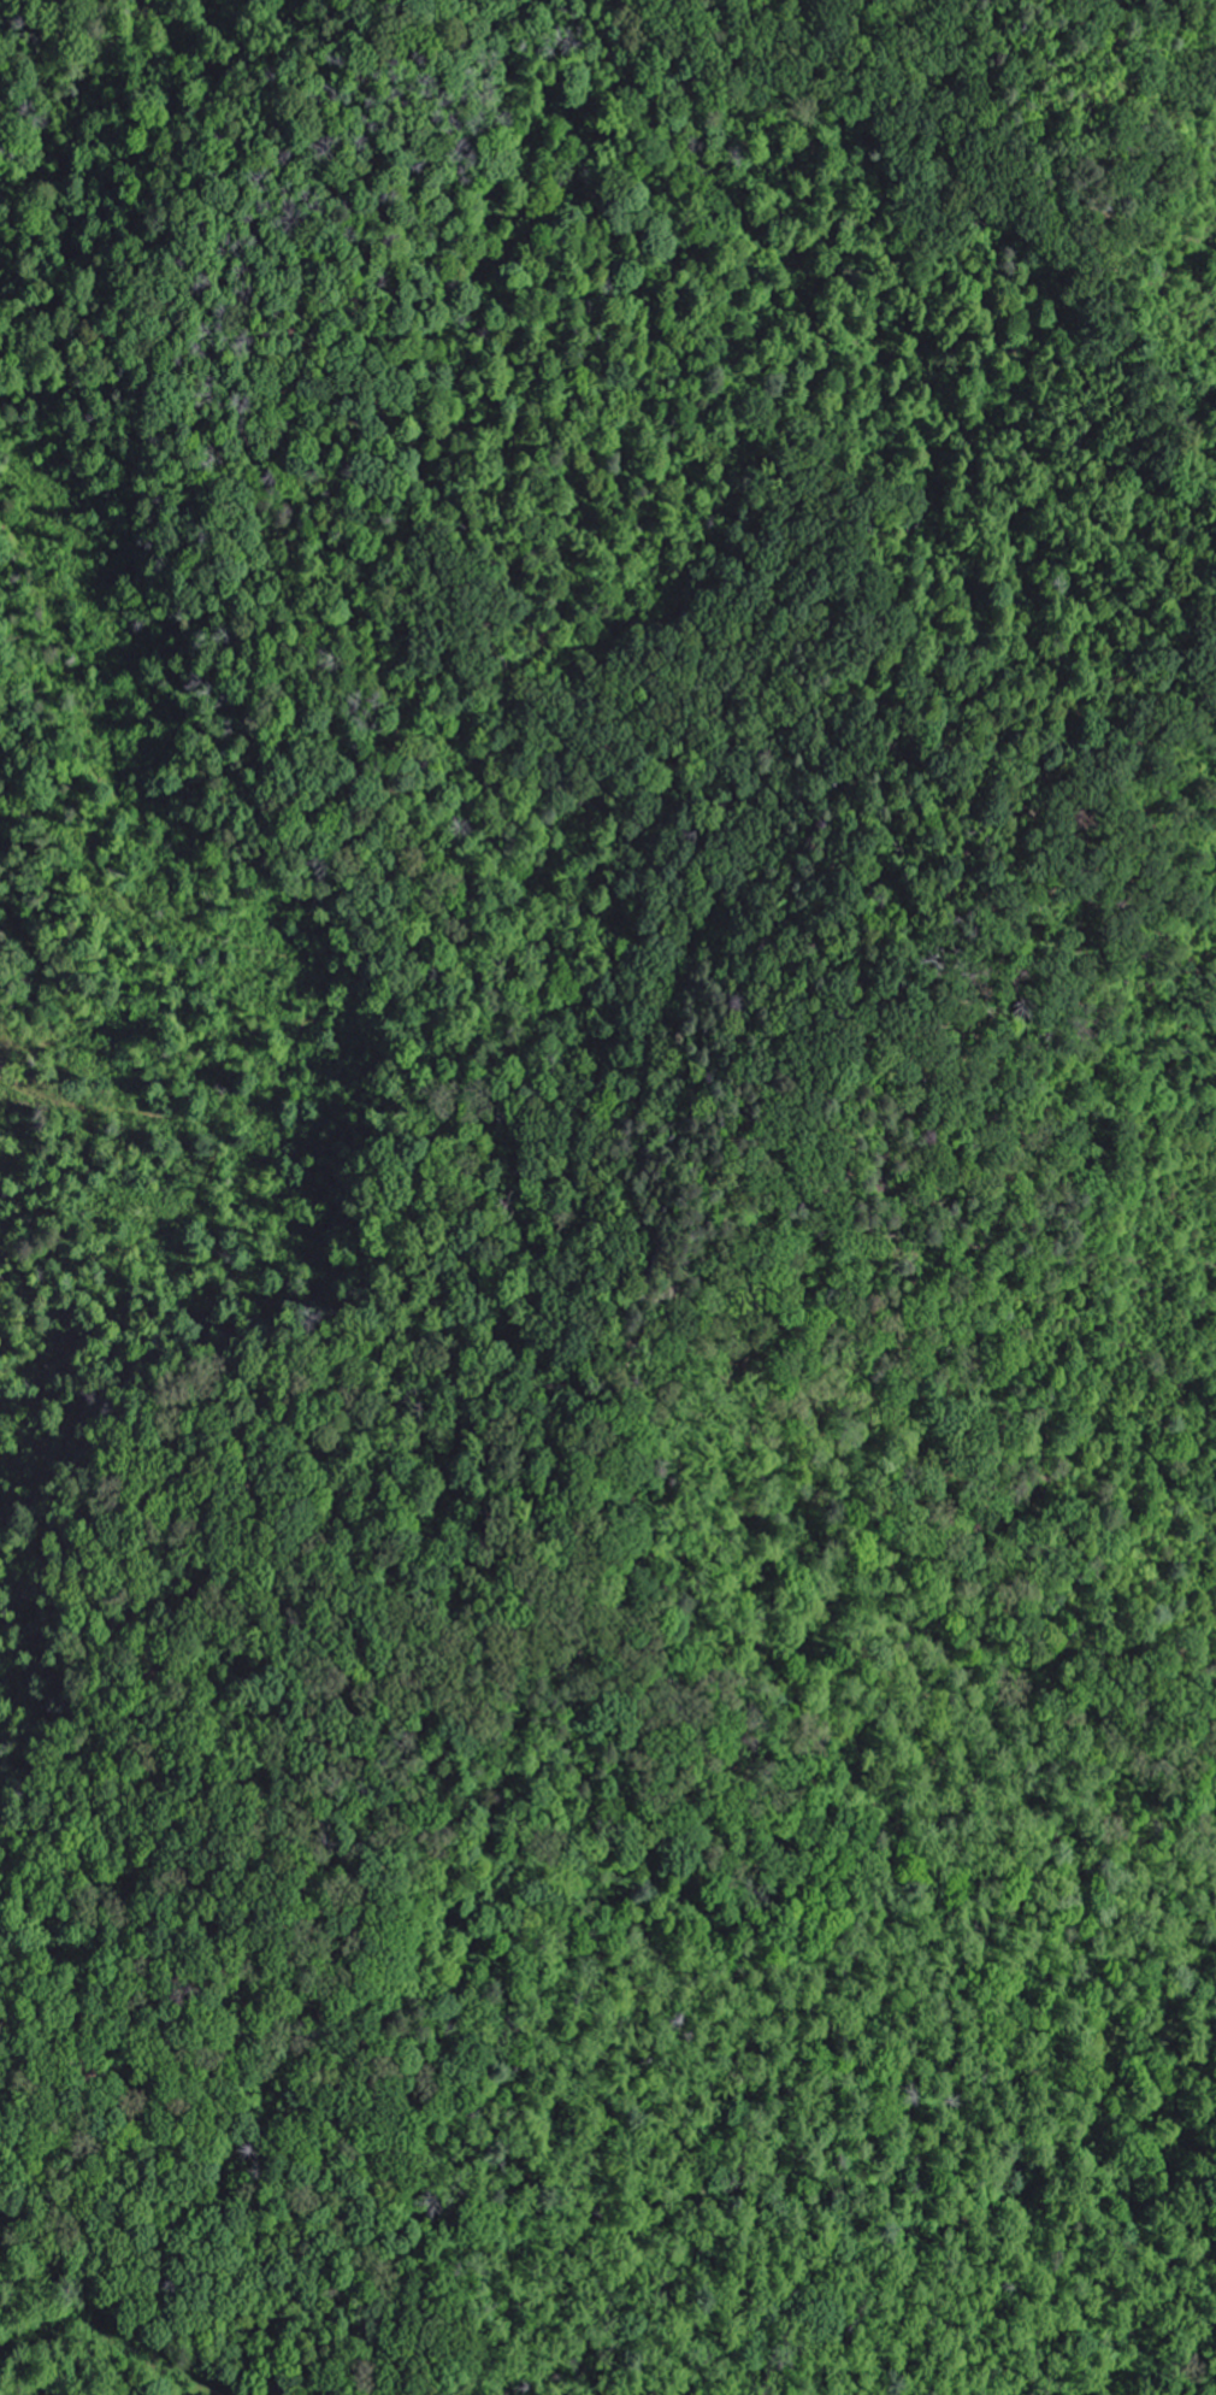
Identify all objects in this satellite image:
road: (104, 2356)

